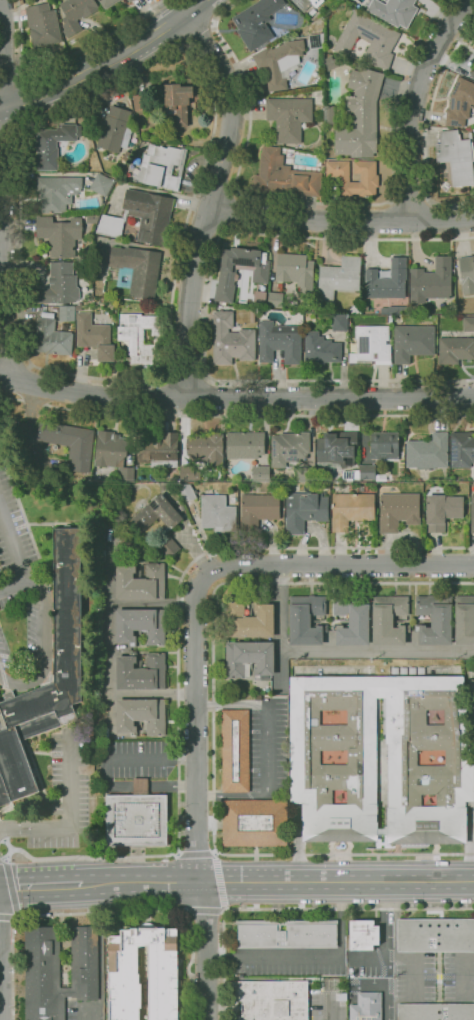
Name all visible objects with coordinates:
building: (127, 0)
building: (129, 1)
building: (108, 2)
building: (306, 3)
building: (394, 11)
building: (76, 13)
building: (256, 22)
building: (42, 25)
road: (18, 33)
road: (196, 35)
building: (368, 38)
building: (316, 40)
road: (94, 41)
building: (473, 46)
road: (108, 61)
building: (279, 62)
building: (330, 63)
road: (11, 69)
building: (472, 72)
road: (27, 94)
building: (141, 102)
building: (178, 102)
building: (460, 103)
road: (416, 104)
road: (3, 110)
building: (329, 115)
building: (360, 115)
building: (289, 117)
building: (133, 118)
building: (116, 128)
road: (428, 128)
road: (9, 131)
building: (53, 144)
building: (472, 151)
building: (126, 155)
building: (456, 156)
building: (162, 166)
building: (284, 175)
building: (369, 178)
building: (101, 184)
building: (445, 187)
road: (6, 189)
road: (215, 189)
building: (55, 192)
road: (409, 198)
road: (214, 199)
road: (312, 201)
road: (228, 212)
building: (140, 217)
building: (92, 218)
road: (393, 219)
road: (342, 220)
road: (439, 221)
road: (203, 230)
building: (60, 234)
building: (135, 270)
building: (296, 271)
building: (467, 273)
building: (228, 277)
building: (338, 277)
building: (388, 280)
building: (431, 281)
building: (60, 284)
building: (275, 299)
building: (355, 309)
building: (395, 309)
building: (376, 311)
road: (205, 312)
building: (67, 313)
building: (400, 317)
building: (390, 318)
building: (339, 323)
building: (468, 324)
building: (95, 336)
building: (138, 336)
building: (52, 337)
building: (114, 337)
building: (231, 340)
building: (279, 342)
building: (412, 342)
building: (369, 344)
building: (320, 349)
building: (455, 349)
road: (15, 360)
road: (64, 371)
road: (185, 375)
road: (26, 382)
road: (90, 395)
road: (166, 396)
road: (203, 396)
road: (10, 398)
road: (328, 398)
road: (33, 402)
road: (259, 414)
road: (32, 427)
building: (70, 442)
building: (244, 445)
building: (384, 445)
building: (110, 448)
building: (289, 448)
building: (206, 449)
building: (337, 449)
building: (462, 449)
building: (159, 450)
building: (429, 452)
building: (367, 471)
building: (260, 472)
building: (126, 473)
building: (189, 473)
building: (305, 474)
building: (351, 475)
building: (127, 487)
building: (362, 488)
building: (185, 491)
building: (181, 508)
building: (258, 508)
building: (351, 509)
building: (304, 510)
building: (398, 511)
building: (442, 511)
building: (218, 513)
building: (472, 513)
building: (140, 528)
building: (114, 533)
building: (104, 539)
building: (117, 540)
road: (13, 547)
road: (337, 565)
parking lot: (20, 580)
building: (140, 582)
road: (13, 586)
building: (67, 605)
road: (280, 608)
building: (352, 619)
building: (435, 619)
building: (464, 619)
building: (249, 620)
building: (306, 620)
building: (388, 620)
building: (140, 625)
road: (44, 645)
road: (108, 645)
road: (360, 650)
road: (177, 653)
building: (249, 659)
building: (141, 671)
road: (152, 694)
building: (472, 694)
parking garage: (472, 694)
building: (141, 716)
road: (213, 718)
road: (195, 728)
road: (267, 749)
building: (235, 751)
building: (381, 758)
road: (70, 817)
building: (136, 817)
building: (254, 822)
road: (1, 835)
road: (8, 853)
road: (3, 856)
road: (337, 881)
road: (218, 882)
road: (141, 883)
road: (40, 885)
road: (10, 887)
road: (103, 911)
road: (295, 911)
road: (10, 917)
building: (287, 934)
building: (363, 934)
building: (435, 934)
road: (206, 951)
road: (333, 956)
building: (58, 970)
building: (164, 973)
building: (273, 1000)
building: (366, 1006)
building: (435, 1011)
road: (81, 1014)

